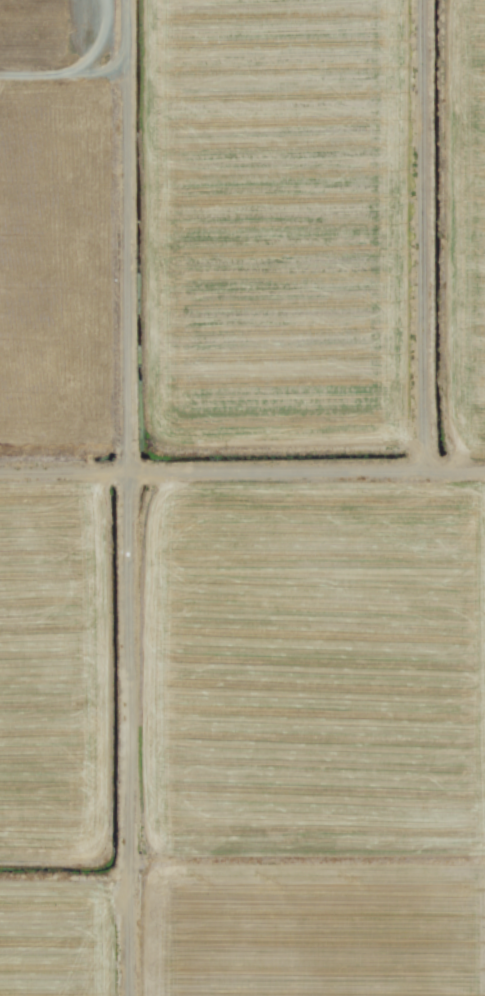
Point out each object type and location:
road: (88, 41)
road: (66, 75)
road: (422, 237)
road: (242, 474)
road: (126, 498)

